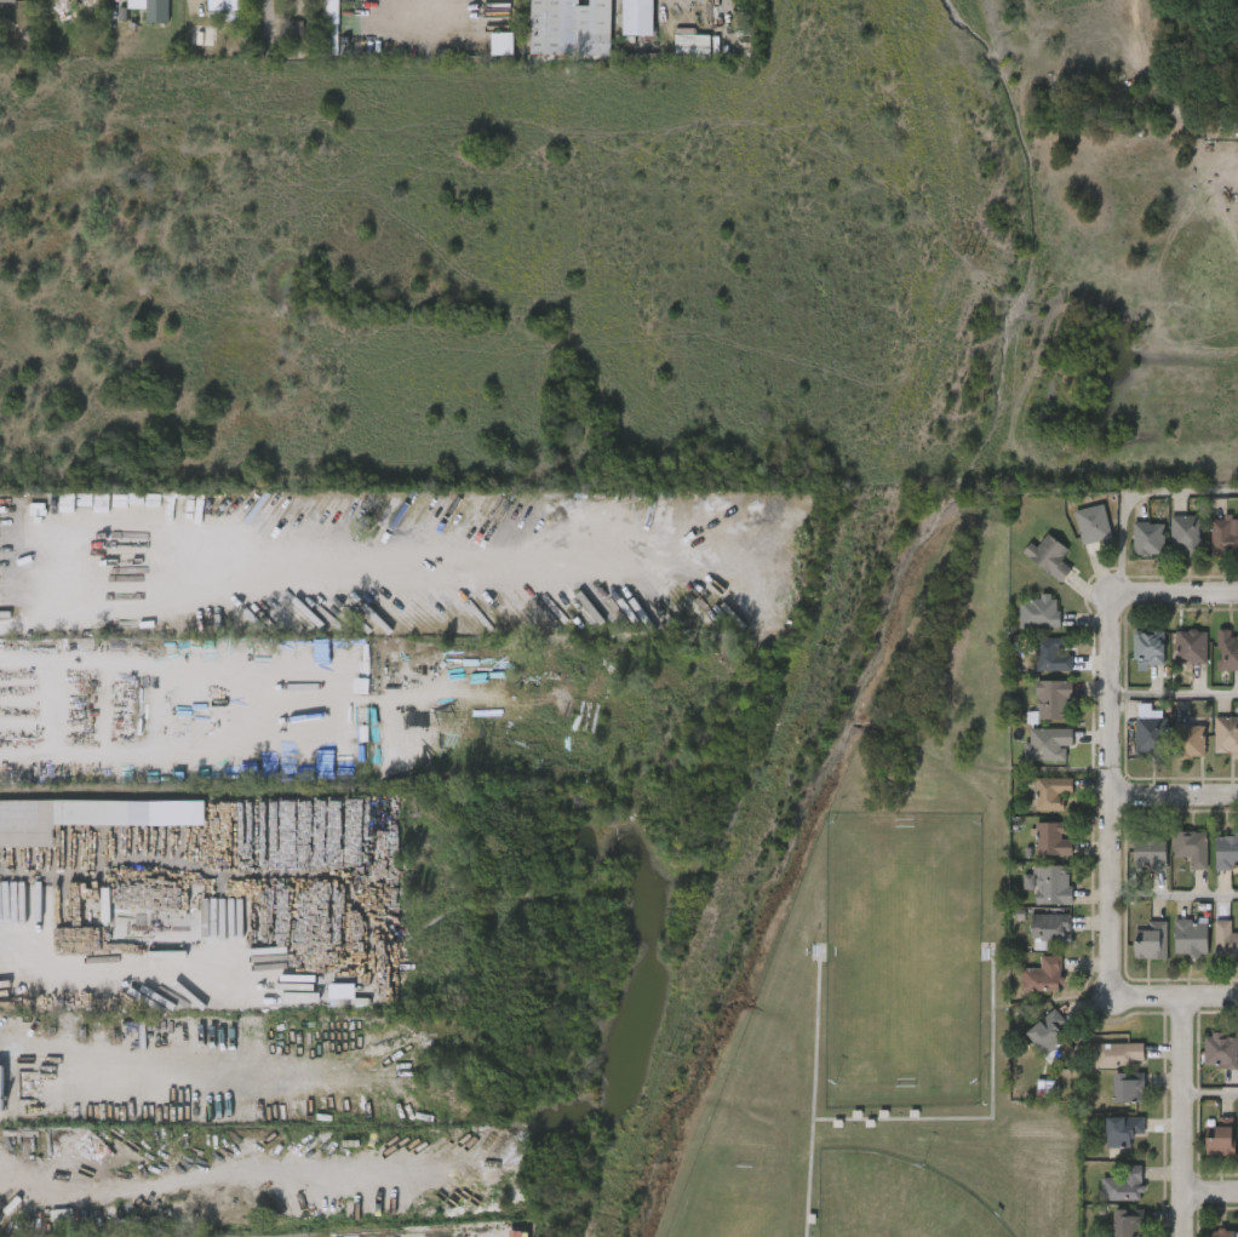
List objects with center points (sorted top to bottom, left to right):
building: (7, 0)
building: (225, 7)
road: (671, 7)
building: (153, 8)
building: (638, 17)
building: (328, 27)
building: (569, 28)
building: (202, 36)
building: (296, 38)
building: (501, 44)
building: (692, 47)
road: (1134, 493)
building: (1090, 523)
building: (1185, 534)
building: (1223, 537)
building: (1146, 538)
road: (213, 540)
building: (1047, 556)
road: (1177, 590)
building: (1037, 612)
building: (5, 614)
road: (22, 624)
building: (1190, 646)
building: (1147, 647)
building: (1227, 649)
building: (1051, 654)
road: (1174, 693)
building: (1051, 699)
building: (1148, 733)
building: (1226, 735)
building: (1188, 739)
building: (1045, 745)
road: (1111, 780)
building: (1050, 791)
road: (1175, 795)
building: (87, 817)
building: (1050, 838)
building: (1190, 847)
building: (1226, 852)
building: (1147, 853)
building: (1051, 884)
road: (1175, 900)
building: (1049, 929)
building: (1188, 937)
building: (1148, 939)
building: (1225, 939)
road: (149, 964)
building: (1041, 975)
road: (1167, 997)
building: (1045, 1031)
building: (1219, 1049)
road: (91, 1053)
building: (1117, 1055)
building: (1125, 1087)
building: (1, 1089)
road: (1210, 1100)
road: (1183, 1116)
building: (1122, 1130)
building: (1217, 1140)
building: (1122, 1186)
road: (1210, 1193)
building: (1125, 1224)
building: (1219, 1232)

